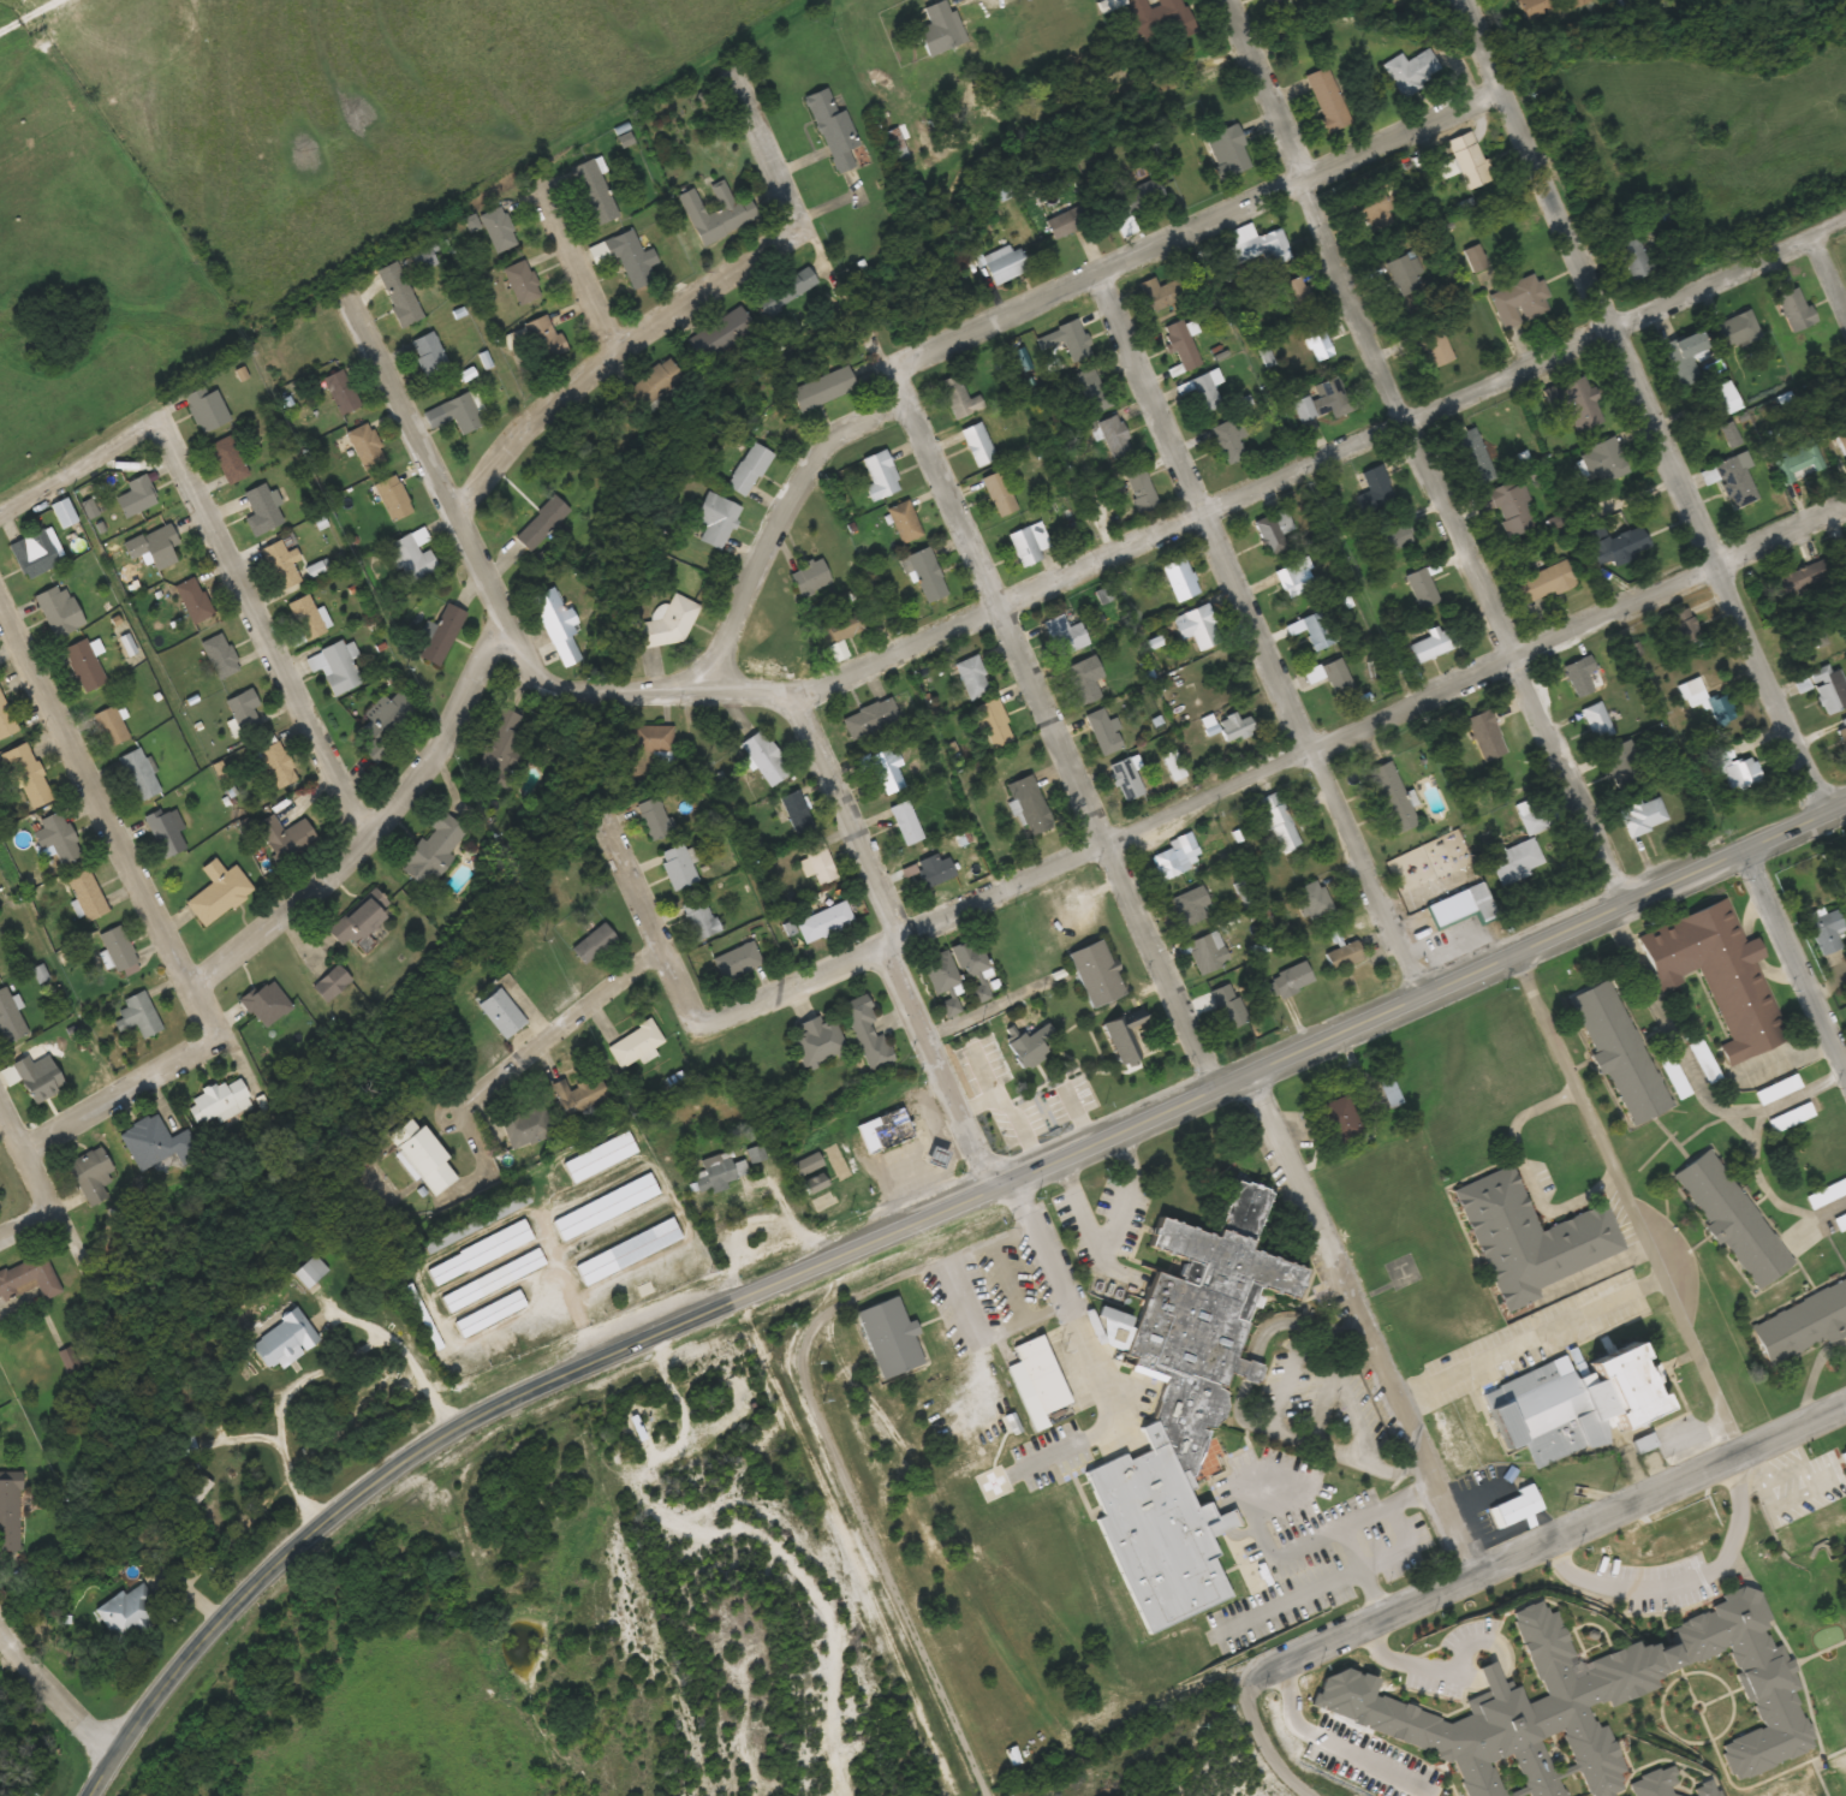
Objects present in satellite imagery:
building: (1381, 0)
building: (1275, 1)
road: (26, 14)
building: (1156, 19)
building: (941, 29)
building: (1412, 71)
building: (1327, 100)
building: (834, 130)
building: (1228, 151)
building: (1466, 161)
road: (776, 171)
building: (594, 192)
building: (1137, 198)
building: (1365, 206)
building: (717, 213)
building: (1067, 221)
building: (499, 228)
road: (1197, 231)
building: (1263, 249)
building: (1633, 256)
building: (632, 257)
building: (1006, 263)
road: (577, 273)
building: (1407, 275)
building: (520, 279)
building: (787, 290)
building: (399, 293)
building: (1161, 293)
road: (1823, 295)
building: (1299, 296)
building: (1519, 302)
building: (1796, 309)
building: (1737, 329)
building: (547, 337)
building: (725, 337)
building: (1074, 339)
building: (1047, 340)
building: (1183, 345)
building: (1435, 345)
building: (1321, 346)
building: (429, 353)
building: (1685, 356)
road: (617, 358)
building: (651, 386)
building: (824, 388)
building: (1094, 389)
building: (341, 392)
building: (1208, 392)
building: (955, 397)
building: (1725, 398)
building: (1323, 402)
building: (1576, 403)
road: (412, 405)
road: (1637, 405)
building: (208, 410)
building: (455, 414)
building: (1116, 436)
building: (1232, 441)
building: (1842, 442)
building: (978, 444)
building: (367, 446)
road: (1415, 451)
road: (120, 453)
building: (1473, 457)
building: (230, 459)
building: (1603, 460)
building: (1798, 462)
building: (750, 469)
building: (881, 476)
building: (1734, 481)
building: (1141, 488)
building: (1375, 489)
building: (999, 493)
building: (138, 496)
building: (393, 498)
road: (44, 500)
building: (1509, 507)
building: (263, 510)
building: (64, 512)
building: (716, 519)
road: (775, 521)
building: (905, 522)
building: (542, 523)
road: (1185, 525)
building: (1275, 530)
building: (1393, 534)
building: (1029, 543)
building: (155, 546)
building: (1619, 546)
building: (35, 553)
building: (412, 558)
building: (282, 564)
road: (482, 566)
building: (928, 575)
building: (811, 577)
building: (1296, 577)
building: (1180, 578)
building: (1546, 582)
building: (1802, 587)
building: (1422, 588)
building: (193, 600)
building: (60, 611)
building: (306, 617)
building: (845, 626)
building: (558, 628)
building: (666, 628)
building: (1199, 628)
building: (1681, 628)
building: (1320, 630)
building: (442, 634)
building: (1066, 635)
road: (1257, 636)
building: (1808, 638)
road: (261, 643)
building: (1434, 644)
building: (221, 655)
building: (84, 665)
building: (335, 667)
building: (972, 676)
building: (1579, 676)
building: (1339, 678)
building: (1084, 679)
building: (1829, 689)
building: (1705, 700)
building: (244, 708)
road: (1370, 714)
building: (870, 718)
building: (6, 719)
building: (1597, 721)
building: (995, 722)
building: (382, 725)
road: (1052, 725)
building: (111, 726)
building: (1235, 726)
building: (1106, 732)
building: (1487, 736)
building: (650, 738)
building: (502, 747)
building: (764, 759)
building: (279, 765)
building: (1622, 765)
building: (1175, 769)
building: (888, 771)
building: (1744, 772)
building: (139, 774)
building: (29, 775)
building: (1126, 779)
building: (1391, 798)
building: (1031, 804)
building: (797, 813)
road: (846, 813)
building: (1530, 816)
building: (1643, 816)
building: (654, 817)
building: (1278, 821)
road: (109, 822)
building: (906, 822)
building: (165, 832)
building: (58, 837)
building: (287, 838)
road: (386, 839)
building: (433, 850)
building: (1178, 856)
building: (1515, 861)
building: (820, 862)
building: (678, 867)
building: (935, 869)
building: (219, 892)
building: (88, 893)
building: (1312, 900)
road: (642, 903)
building: (1190, 905)
building: (1461, 906)
building: (359, 918)
building: (699, 920)
building: (824, 922)
building: (1824, 929)
road: (886, 938)
building: (118, 947)
building: (1207, 952)
building: (1345, 956)
building: (971, 957)
building: (737, 962)
road: (1790, 965)
building: (941, 973)
building: (1098, 974)
building: (1719, 975)
building: (1291, 980)
building: (333, 982)
road: (1421, 989)
building: (981, 993)
road: (751, 1006)
building: (1229, 1006)
building: (502, 1012)
building: (138, 1015)
building: (10, 1018)
building: (867, 1031)
road: (556, 1036)
building: (1126, 1036)
building: (818, 1042)
building: (635, 1043)
building: (1032, 1046)
building: (1619, 1049)
road: (936, 1064)
building: (38, 1077)
building: (580, 1094)
building: (222, 1099)
road: (124, 1100)
building: (1340, 1120)
building: (528, 1126)
road: (13, 1128)
building: (892, 1129)
building: (155, 1144)
building: (424, 1156)
building: (601, 1156)
building: (716, 1173)
building: (93, 1176)
road: (40, 1185)
road: (1625, 1202)
building: (606, 1207)
building: (1733, 1219)
building: (1841, 1221)
building: (477, 1224)
road: (26, 1229)
building: (1531, 1238)
road: (62, 1239)
building: (629, 1251)
building: (481, 1253)
building: (311, 1272)
building: (29, 1278)
building: (494, 1280)
building: (647, 1291)
building: (492, 1313)
building: (424, 1319)
road: (1362, 1322)
building: (1803, 1324)
building: (891, 1338)
road: (1530, 1338)
building: (285, 1342)
road: (1088, 1349)
road: (1288, 1380)
building: (1037, 1381)
building: (1577, 1405)
building: (1185, 1409)
road: (484, 1419)
building: (1644, 1441)
helipad: (993, 1482)
road: (1660, 1492)
building: (1515, 1507)
building: (10, 1513)
road: (1264, 1547)
road: (1362, 1572)
road: (1327, 1582)
building: (131, 1612)
road: (1358, 1626)
building: (1567, 1682)
road: (54, 1694)
road: (1262, 1744)
road: (1284, 1783)
building: (1674, 1788)

